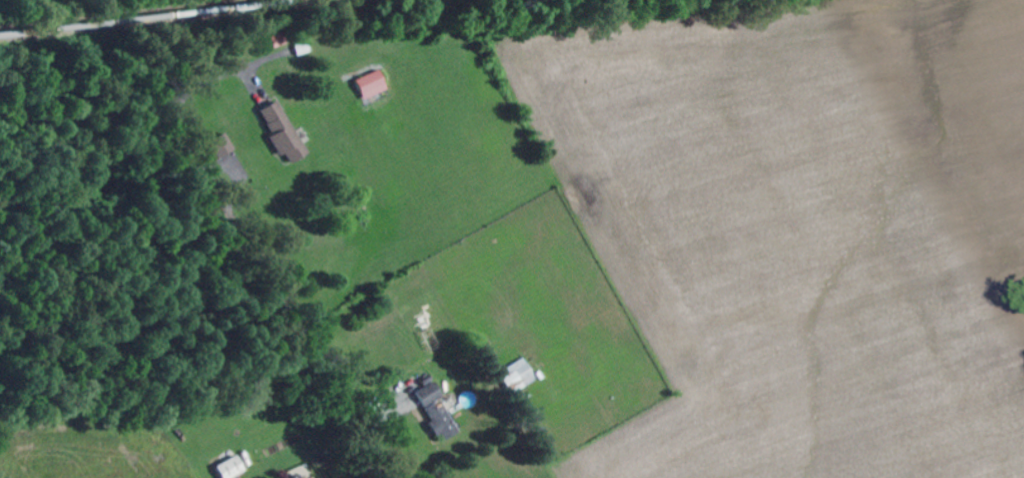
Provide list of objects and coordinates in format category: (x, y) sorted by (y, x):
railway: (158, 18)
building: (280, 41)
building: (304, 48)
building: (374, 85)
building: (286, 133)
road: (388, 290)
building: (520, 376)
building: (433, 394)
building: (445, 421)
building: (234, 468)
building: (302, 476)

